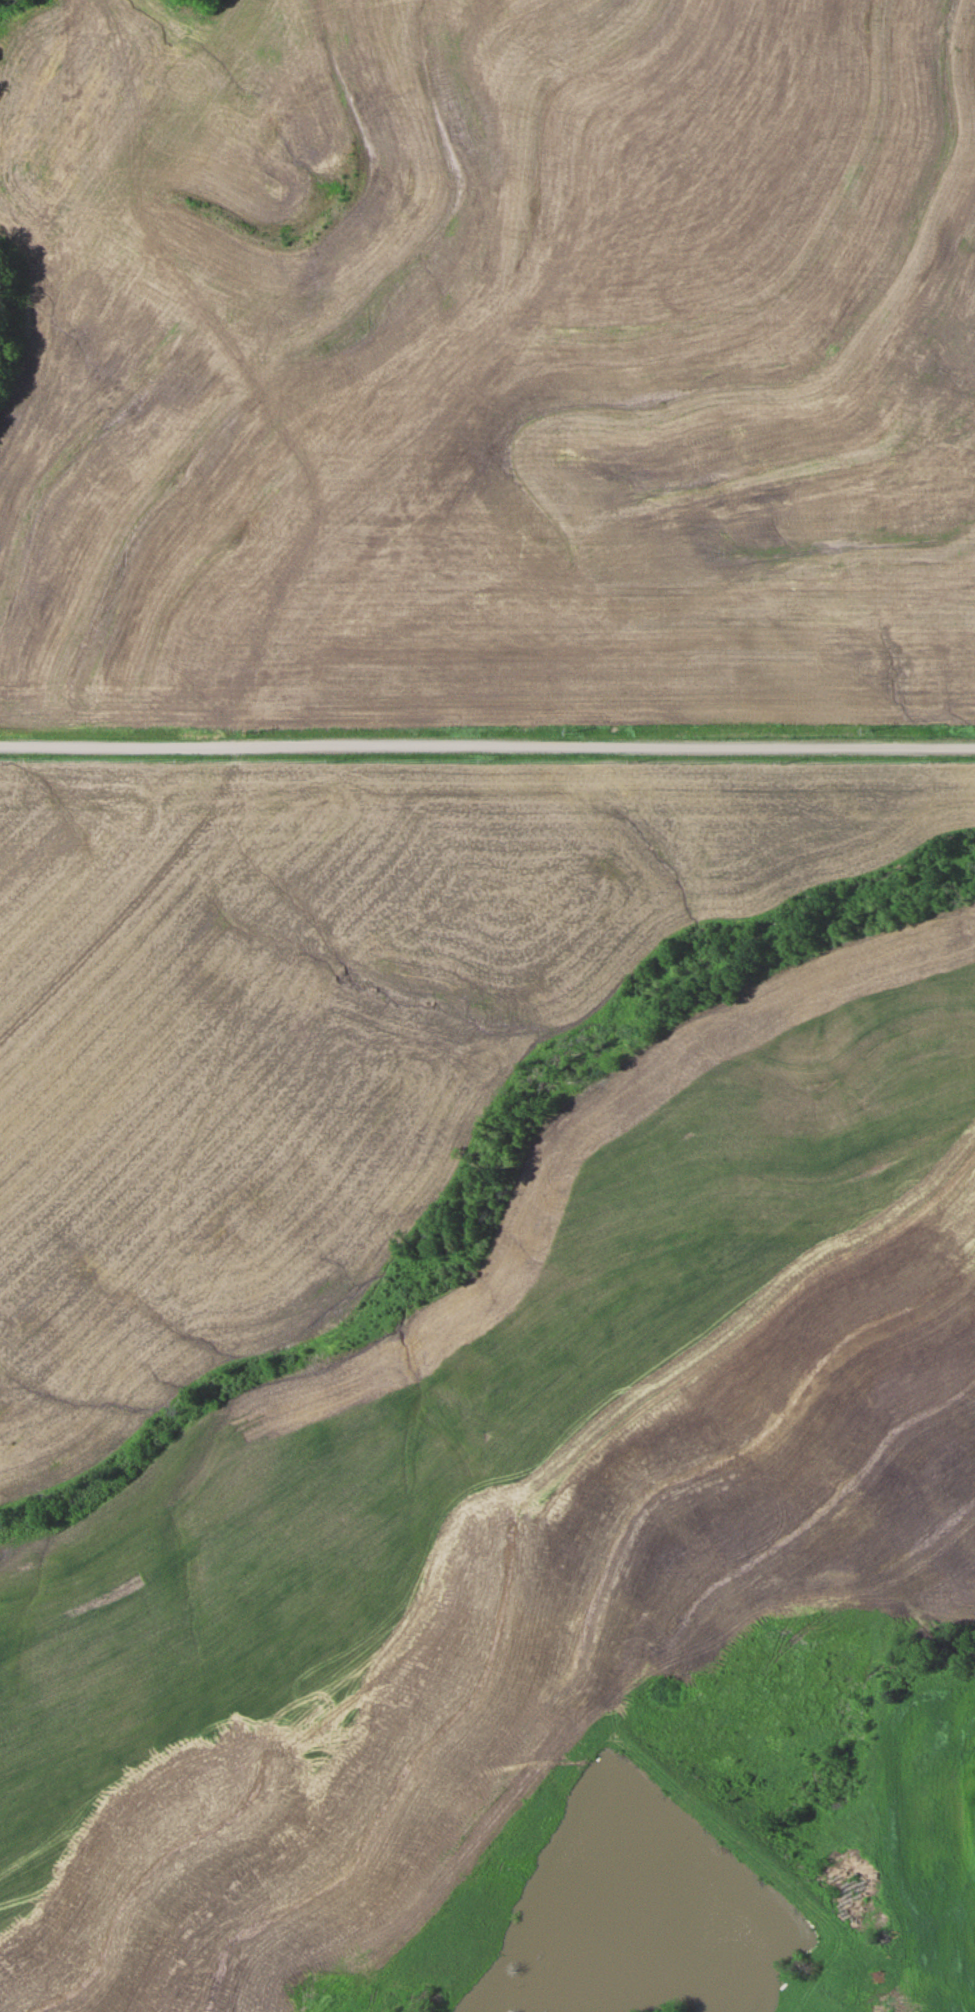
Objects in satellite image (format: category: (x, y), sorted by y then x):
crop: (512, 377)
road: (487, 746)

